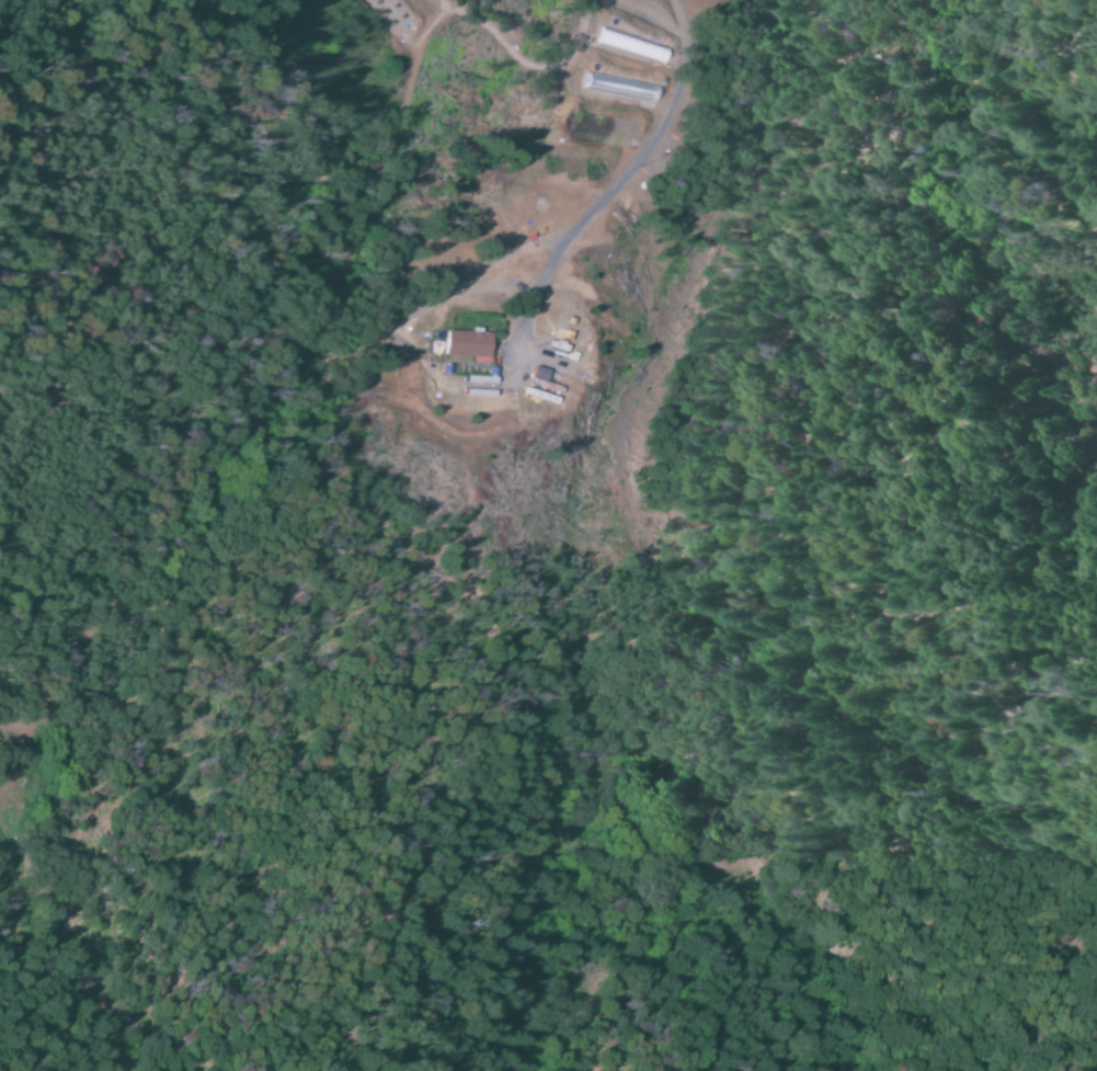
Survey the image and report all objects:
building: (467, 345)

